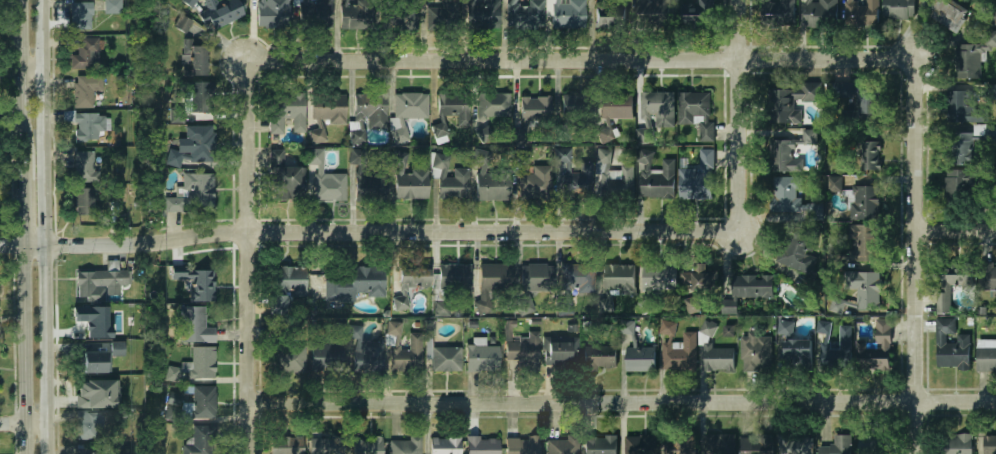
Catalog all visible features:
building: (190, 2)
building: (113, 6)
building: (898, 8)
building: (650, 12)
building: (777, 12)
building: (949, 12)
building: (272, 13)
building: (481, 13)
building: (567, 13)
building: (820, 13)
building: (861, 13)
building: (225, 14)
building: (313, 14)
building: (443, 14)
building: (526, 14)
building: (698, 14)
building: (407, 15)
building: (79, 16)
building: (356, 16)
building: (610, 16)
building: (185, 24)
building: (990, 39)
building: (85, 56)
building: (193, 59)
road: (579, 61)
building: (965, 61)
road: (21, 69)
building: (84, 92)
building: (200, 99)
building: (859, 102)
building: (789, 103)
building: (493, 105)
building: (576, 106)
building: (616, 106)
building: (453, 107)
building: (962, 108)
building: (371, 109)
building: (535, 109)
building: (407, 111)
building: (696, 112)
building: (325, 114)
building: (655, 114)
building: (286, 115)
road: (740, 115)
building: (86, 124)
building: (441, 131)
building: (484, 134)
building: (520, 137)
building: (967, 144)
building: (191, 146)
building: (790, 152)
building: (868, 154)
building: (358, 156)
building: (83, 166)
building: (656, 177)
building: (283, 178)
building: (447, 179)
building: (532, 179)
building: (613, 179)
building: (323, 180)
building: (409, 181)
building: (579, 181)
building: (696, 182)
building: (959, 183)
building: (486, 185)
building: (833, 185)
building: (370, 187)
building: (192, 194)
building: (785, 195)
building: (84, 202)
building: (864, 203)
building: (813, 212)
road: (23, 226)
traffic signals: (23, 226)
road: (43, 226)
road: (955, 230)
road: (440, 233)
building: (861, 243)
road: (99, 245)
road: (0, 246)
traffic signals: (6, 246)
road: (30, 246)
traffic signals: (63, 246)
building: (795, 247)
road: (249, 256)
road: (914, 257)
traffic signals: (44, 264)
building: (987, 276)
building: (536, 277)
building: (659, 277)
building: (576, 278)
building: (414, 279)
building: (618, 279)
building: (492, 281)
building: (699, 281)
building: (452, 282)
building: (950, 283)
building: (197, 284)
building: (356, 284)
building: (100, 285)
building: (285, 286)
building: (751, 288)
building: (860, 291)
building: (692, 306)
building: (442, 308)
building: (86, 320)
building: (194, 326)
building: (429, 327)
building: (628, 327)
building: (824, 327)
building: (667, 329)
building: (394, 330)
building: (950, 345)
building: (881, 346)
building: (117, 348)
building: (793, 349)
building: (522, 350)
building: (689, 352)
building: (716, 353)
building: (756, 353)
building: (560, 354)
building: (407, 355)
building: (835, 355)
building: (369, 356)
building: (481, 357)
building: (600, 357)
building: (985, 357)
building: (286, 358)
building: (326, 358)
building: (85, 359)
building: (444, 359)
building: (640, 359)
building: (200, 363)
building: (90, 394)
building: (174, 398)
road: (623, 402)
building: (203, 403)
road: (24, 422)
road: (2, 423)
building: (87, 426)
building: (199, 441)
building: (719, 444)
building: (794, 444)
building: (953, 444)
building: (287, 445)
building: (326, 445)
building: (405, 445)
building: (445, 445)
building: (482, 445)
building: (599, 445)
building: (639, 445)
building: (754, 445)
building: (872, 445)
building: (989, 445)
building: (367, 446)
building: (521, 446)
building: (561, 446)
building: (678, 446)
building: (836, 446)
building: (84, 449)

